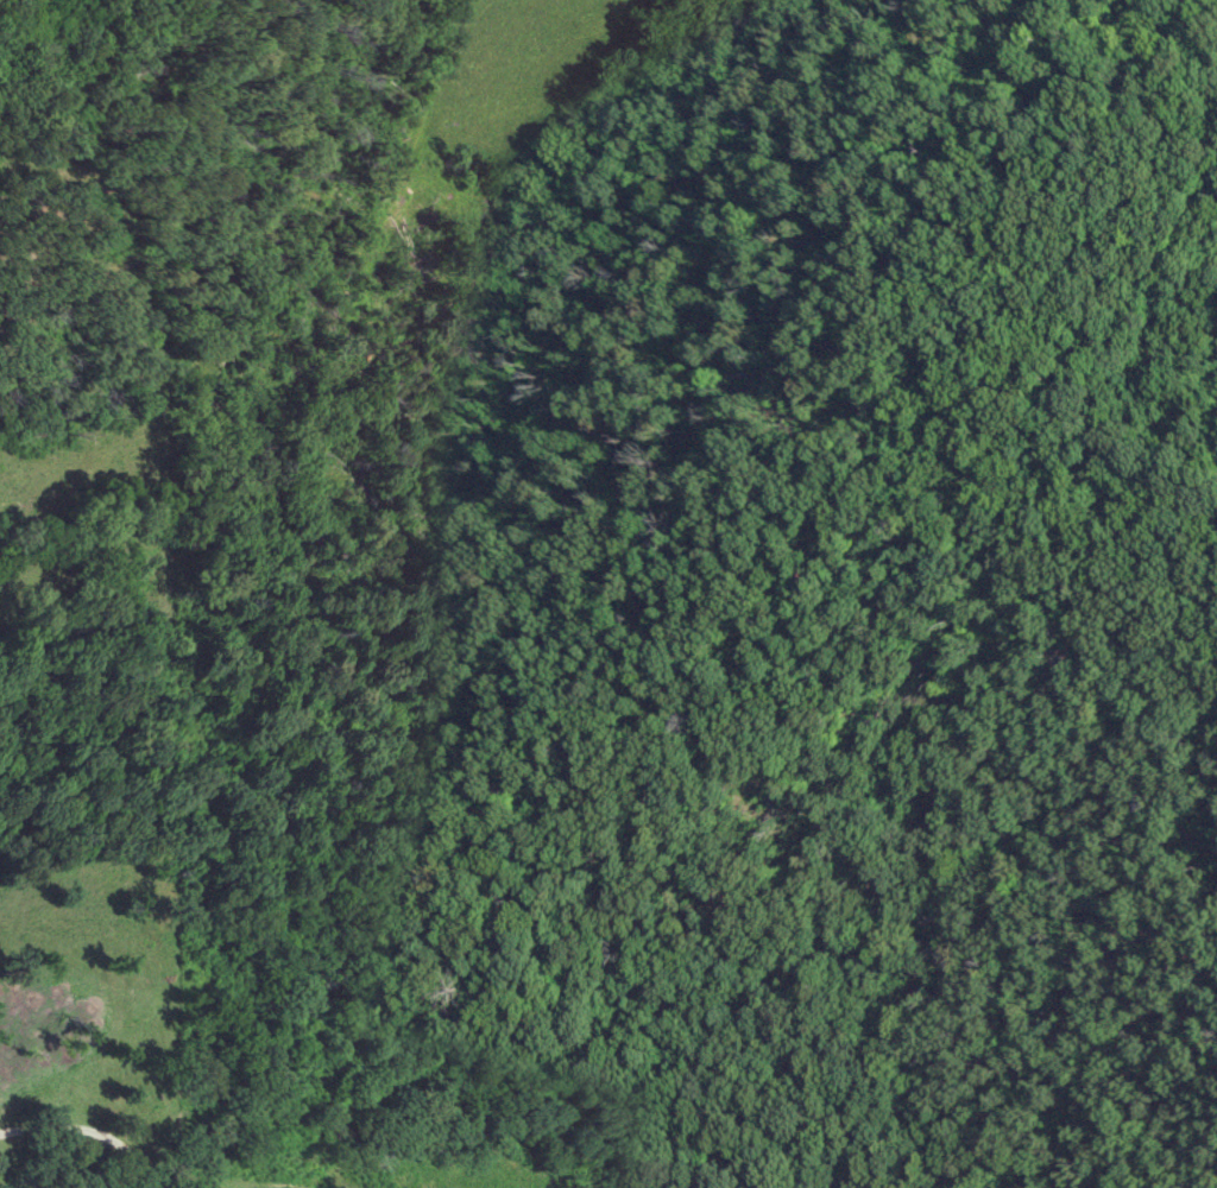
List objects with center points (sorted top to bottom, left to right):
road: (642, 599)
road: (90, 1124)

